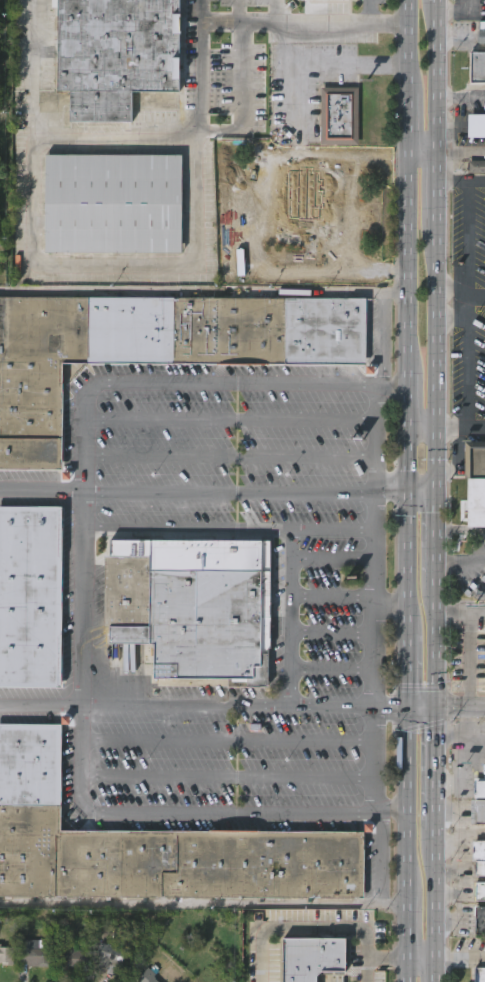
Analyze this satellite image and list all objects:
road: (458, 8)
road: (272, 11)
road: (366, 11)
road: (291, 22)
building: (481, 32)
building: (113, 54)
road: (364, 62)
building: (476, 67)
road: (436, 76)
road: (235, 83)
road: (460, 96)
building: (336, 116)
road: (111, 139)
road: (227, 151)
road: (460, 153)
building: (476, 165)
road: (460, 182)
road: (436, 186)
building: (111, 203)
building: (342, 231)
road: (100, 265)
road: (460, 291)
road: (408, 315)
road: (382, 326)
building: (149, 349)
road: (435, 355)
road: (227, 421)
road: (421, 425)
road: (460, 425)
road: (226, 457)
building: (475, 482)
road: (217, 490)
traffic signals: (407, 491)
traffic signals: (435, 491)
road: (226, 527)
road: (435, 532)
road: (330, 560)
road: (460, 560)
road: (469, 576)
building: (30, 596)
road: (330, 597)
road: (80, 600)
building: (190, 607)
road: (288, 617)
road: (330, 632)
road: (434, 640)
road: (372, 662)
road: (330, 666)
road: (408, 669)
road: (217, 706)
traffic signals: (409, 707)
traffic signals: (434, 708)
road: (459, 708)
road: (470, 728)
road: (225, 740)
road: (461, 759)
road: (434, 769)
road: (227, 774)
building: (479, 786)
building: (477, 810)
road: (408, 844)
building: (150, 845)
building: (479, 855)
building: (480, 891)
road: (435, 894)
road: (187, 909)
building: (479, 919)
road: (311, 927)
building: (6, 956)
building: (34, 956)
building: (311, 956)
building: (73, 957)
road: (400, 957)
road: (460, 957)
building: (113, 959)
road: (436, 970)
building: (478, 974)
building: (146, 976)

